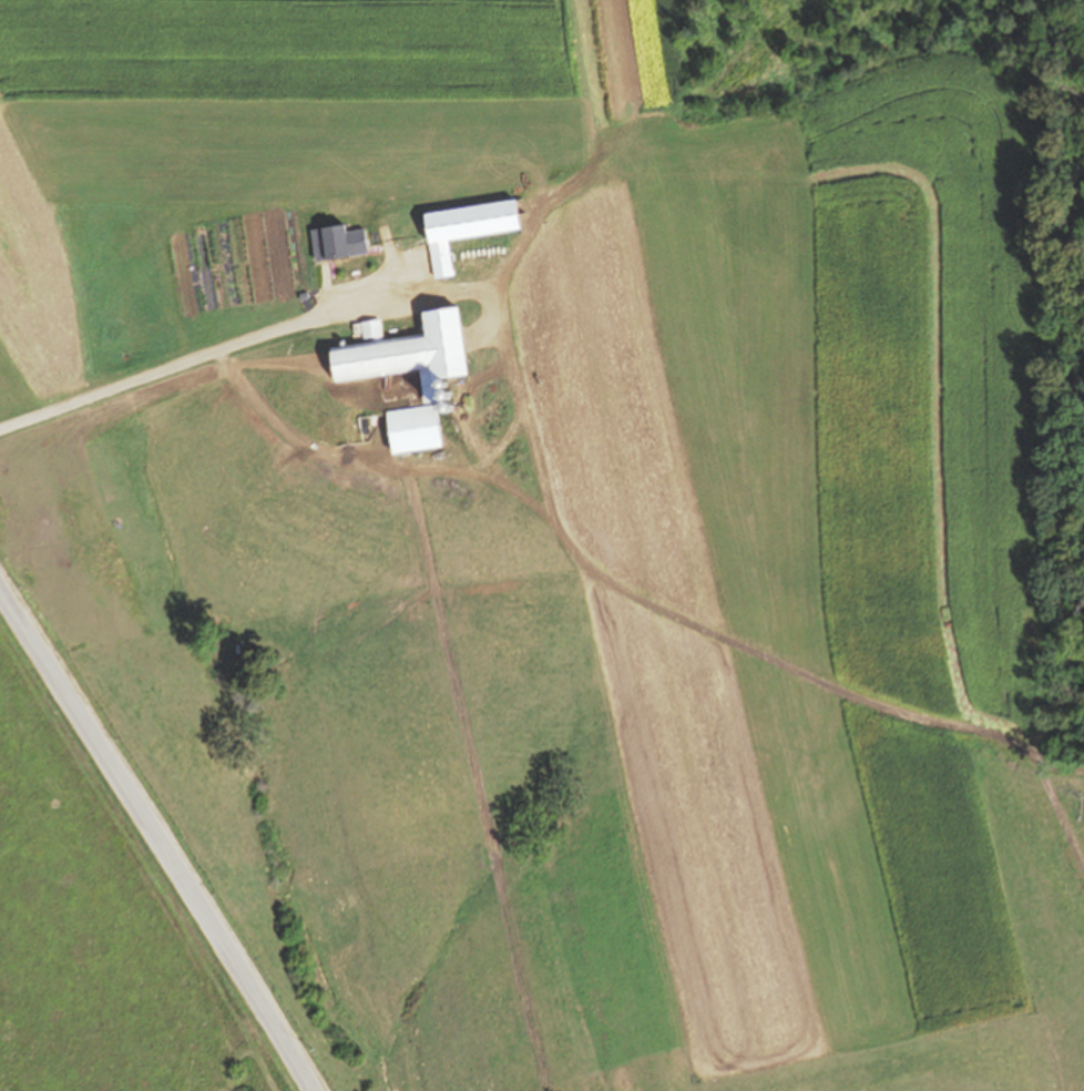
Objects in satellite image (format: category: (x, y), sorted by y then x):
road: (158, 837)

